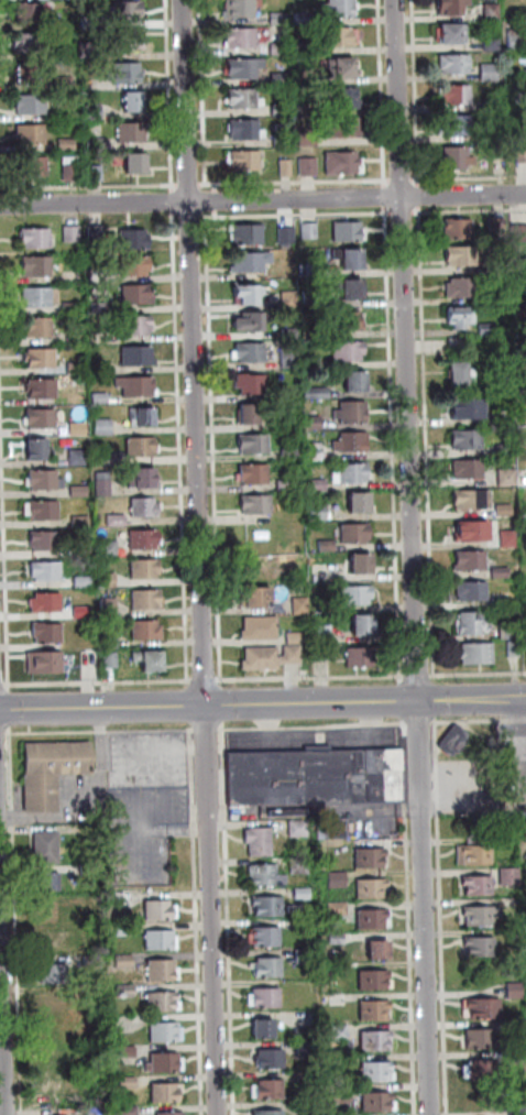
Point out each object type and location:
building: (242, 9)
building: (342, 10)
building: (453, 10)
building: (129, 13)
building: (494, 13)
building: (31, 15)
building: (305, 19)
building: (281, 20)
building: (91, 23)
building: (453, 37)
building: (339, 39)
building: (357, 40)
building: (242, 41)
building: (128, 42)
building: (518, 43)
building: (494, 44)
building: (31, 45)
building: (281, 50)
building: (306, 50)
building: (88, 52)
building: (457, 66)
building: (244, 70)
building: (342, 72)
building: (492, 74)
building: (128, 75)
building: (307, 77)
building: (26, 79)
building: (282, 79)
building: (65, 83)
building: (459, 97)
building: (244, 101)
building: (346, 101)
building: (518, 103)
building: (495, 106)
building: (32, 107)
building: (134, 107)
building: (282, 111)
building: (95, 112)
building: (458, 128)
building: (346, 130)
building: (518, 131)
building: (248, 132)
building: (134, 134)
building: (492, 134)
building: (33, 136)
building: (310, 138)
building: (284, 141)
building: (68, 145)
building: (97, 145)
building: (522, 155)
building: (459, 161)
building: (245, 163)
building: (343, 165)
building: (138, 167)
building: (310, 167)
building: (37, 168)
building: (287, 170)
building: (73, 174)
building: (97, 174)
road: (263, 200)
building: (497, 226)
building: (459, 227)
building: (349, 229)
building: (310, 230)
building: (97, 232)
building: (246, 232)
building: (518, 232)
building: (73, 233)
building: (287, 236)
building: (36, 237)
building: (135, 238)
building: (461, 253)
building: (350, 255)
building: (251, 260)
building: (135, 264)
building: (37, 265)
building: (498, 266)
building: (320, 270)
building: (349, 286)
building: (461, 286)
building: (248, 291)
building: (138, 294)
building: (37, 296)
building: (318, 296)
building: (289, 299)
building: (70, 307)
building: (100, 307)
building: (520, 310)
building: (461, 315)
building: (249, 318)
building: (348, 320)
building: (138, 325)
building: (37, 326)
building: (487, 328)
building: (313, 331)
building: (291, 334)
building: (349, 350)
building: (250, 351)
building: (138, 354)
building: (41, 357)
building: (523, 357)
building: (289, 358)
building: (313, 363)
building: (100, 367)
building: (77, 368)
building: (461, 372)
building: (357, 381)
building: (252, 382)
building: (138, 385)
building: (42, 386)
building: (317, 393)
building: (284, 394)
building: (100, 397)
building: (469, 405)
building: (352, 412)
building: (249, 413)
building: (143, 416)
building: (508, 416)
building: (42, 417)
building: (291, 423)
building: (314, 423)
building: (103, 426)
building: (77, 428)
building: (468, 439)
building: (352, 440)
building: (254, 442)
building: (36, 446)
building: (142, 446)
building: (505, 449)
building: (315, 451)
building: (291, 455)
building: (78, 457)
building: (112, 458)
building: (469, 468)
building: (352, 472)
building: (253, 473)
building: (142, 475)
building: (45, 478)
building: (508, 478)
building: (524, 480)
building: (103, 483)
building: (317, 484)
building: (286, 485)
building: (79, 491)
building: (473, 499)
building: (361, 502)
building: (256, 503)
building: (145, 505)
building: (43, 509)
building: (505, 510)
building: (319, 511)
building: (117, 520)
building: (81, 521)
building: (473, 531)
building: (355, 532)
building: (144, 538)
building: (509, 538)
building: (45, 539)
building: (328, 545)
building: (109, 548)
building: (83, 549)
road: (200, 557)
road: (415, 557)
building: (471, 559)
building: (362, 561)
building: (145, 568)
building: (47, 570)
building: (501, 571)
building: (109, 579)
building: (84, 581)
building: (472, 589)
building: (357, 593)
building: (255, 594)
building: (146, 598)
building: (46, 601)
building: (502, 602)
building: (302, 605)
building: (109, 606)
building: (84, 611)
building: (471, 622)
building: (363, 623)
building: (261, 627)
building: (147, 628)
building: (511, 630)
building: (47, 631)
building: (325, 634)
building: (296, 637)
building: (110, 640)
building: (514, 648)
building: (476, 652)
building: (293, 654)
building: (261, 656)
building: (361, 656)
building: (151, 658)
building: (110, 659)
building: (45, 660)
road: (479, 676)
road: (416, 677)
road: (309, 678)
road: (204, 680)
road: (98, 682)
road: (3, 685)
road: (262, 703)
road: (479, 721)
road: (420, 722)
road: (314, 726)
road: (207, 730)
road: (101, 732)
road: (3, 733)
road: (522, 735)
building: (454, 740)
road: (151, 757)
parking lot: (151, 761)
building: (52, 769)
building: (315, 776)
road: (83, 792)
road: (134, 822)
building: (298, 829)
building: (335, 829)
road: (172, 831)
parking lot: (143, 833)
building: (260, 841)
building: (46, 846)
building: (476, 850)
building: (371, 859)
building: (299, 865)
building: (89, 868)
building: (266, 875)
building: (511, 876)
building: (337, 879)
building: (48, 882)
building: (479, 887)
building: (372, 890)
building: (303, 894)
building: (125, 899)
building: (89, 903)
building: (270, 907)
building: (339, 909)
building: (161, 911)
building: (50, 912)
building: (483, 916)
road: (412, 918)
road: (442, 918)
building: (338, 919)
building: (374, 919)
road: (228, 921)
road: (197, 922)
road: (15, 925)
building: (303, 925)
building: (124, 930)
building: (266, 937)
building: (162, 940)
building: (337, 940)
building: (52, 941)
building: (481, 947)
building: (379, 950)
building: (304, 955)
building: (92, 961)
building: (124, 962)
building: (269, 968)
building: (163, 971)
building: (54, 974)
building: (375, 980)
building: (125, 991)
building: (515, 991)
building: (92, 994)
building: (266, 997)
road: (3, 1003)
building: (163, 1003)
building: (54, 1005)
building: (482, 1008)
building: (374, 1010)
building: (263, 1028)
building: (166, 1032)
building: (340, 1032)
building: (483, 1039)
building: (375, 1041)
building: (307, 1049)
building: (127, 1051)
building: (516, 1058)
building: (272, 1059)
building: (342, 1060)
building: (165, 1063)
building: (53, 1064)
building: (482, 1070)
building: (379, 1072)
building: (306, 1078)
building: (128, 1082)
building: (270, 1090)
building: (167, 1093)
building: (341, 1095)
road: (31, 1097)
road: (44, 1097)
building: (380, 1103)
building: (310, 1108)
building: (517, 1109)
building: (130, 1111)
building: (95, 1112)
building: (270, 1113)
building: (172, 1114)

